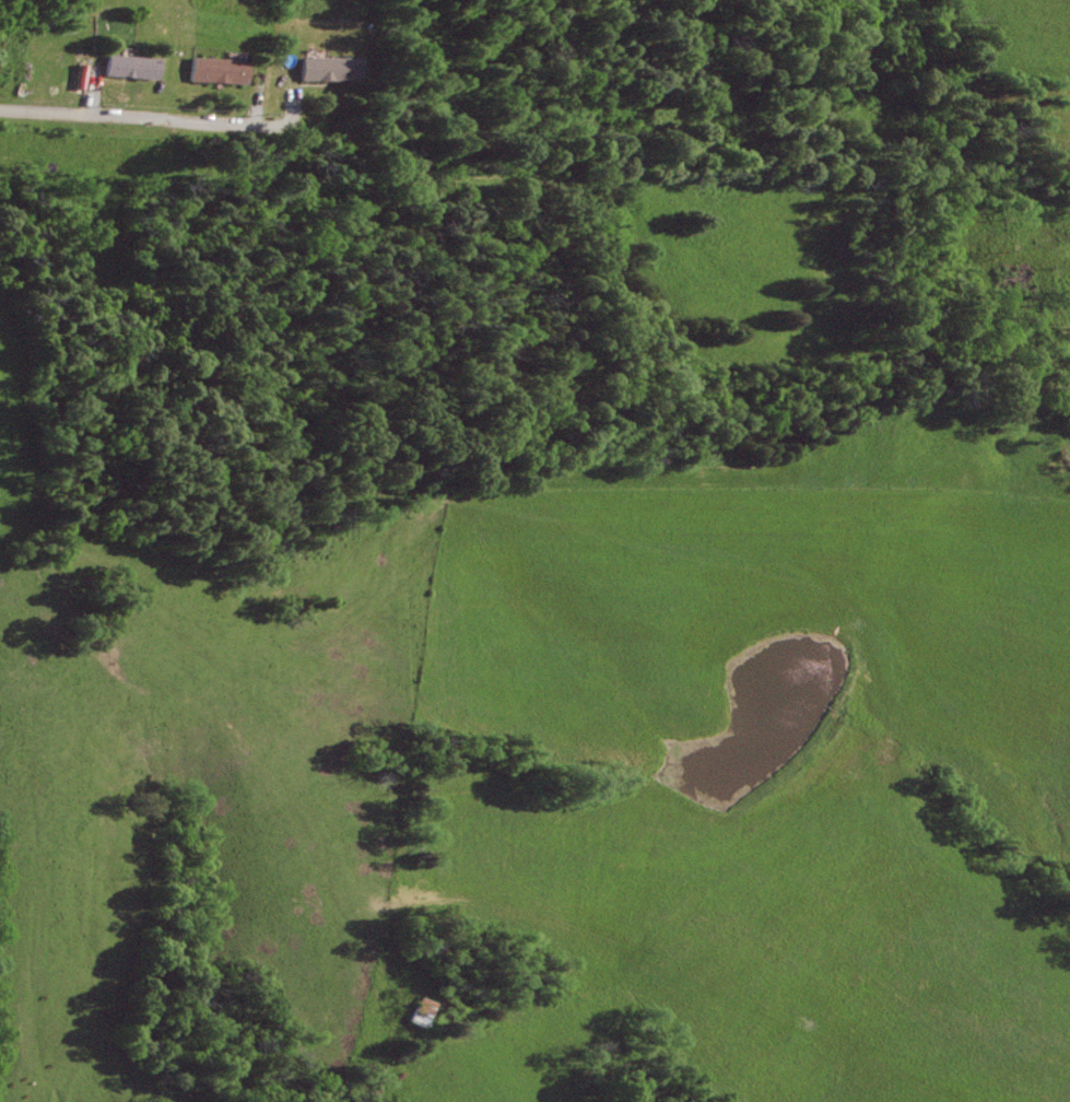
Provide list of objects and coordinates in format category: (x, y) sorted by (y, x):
building: (128, 66)
building: (329, 69)
building: (217, 70)
road: (91, 87)
road: (258, 99)
road: (295, 106)
road: (151, 117)

